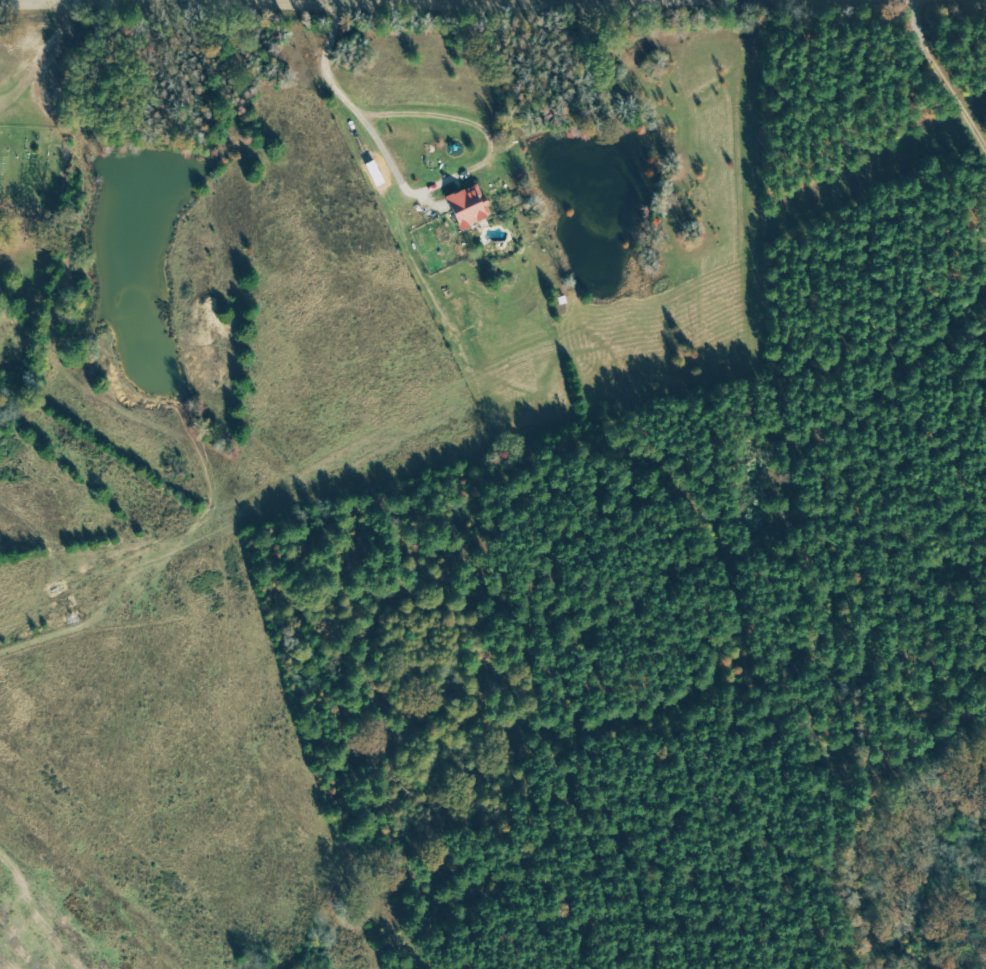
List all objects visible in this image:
road: (492, 1)
building: (467, 205)
park: (24, 219)

